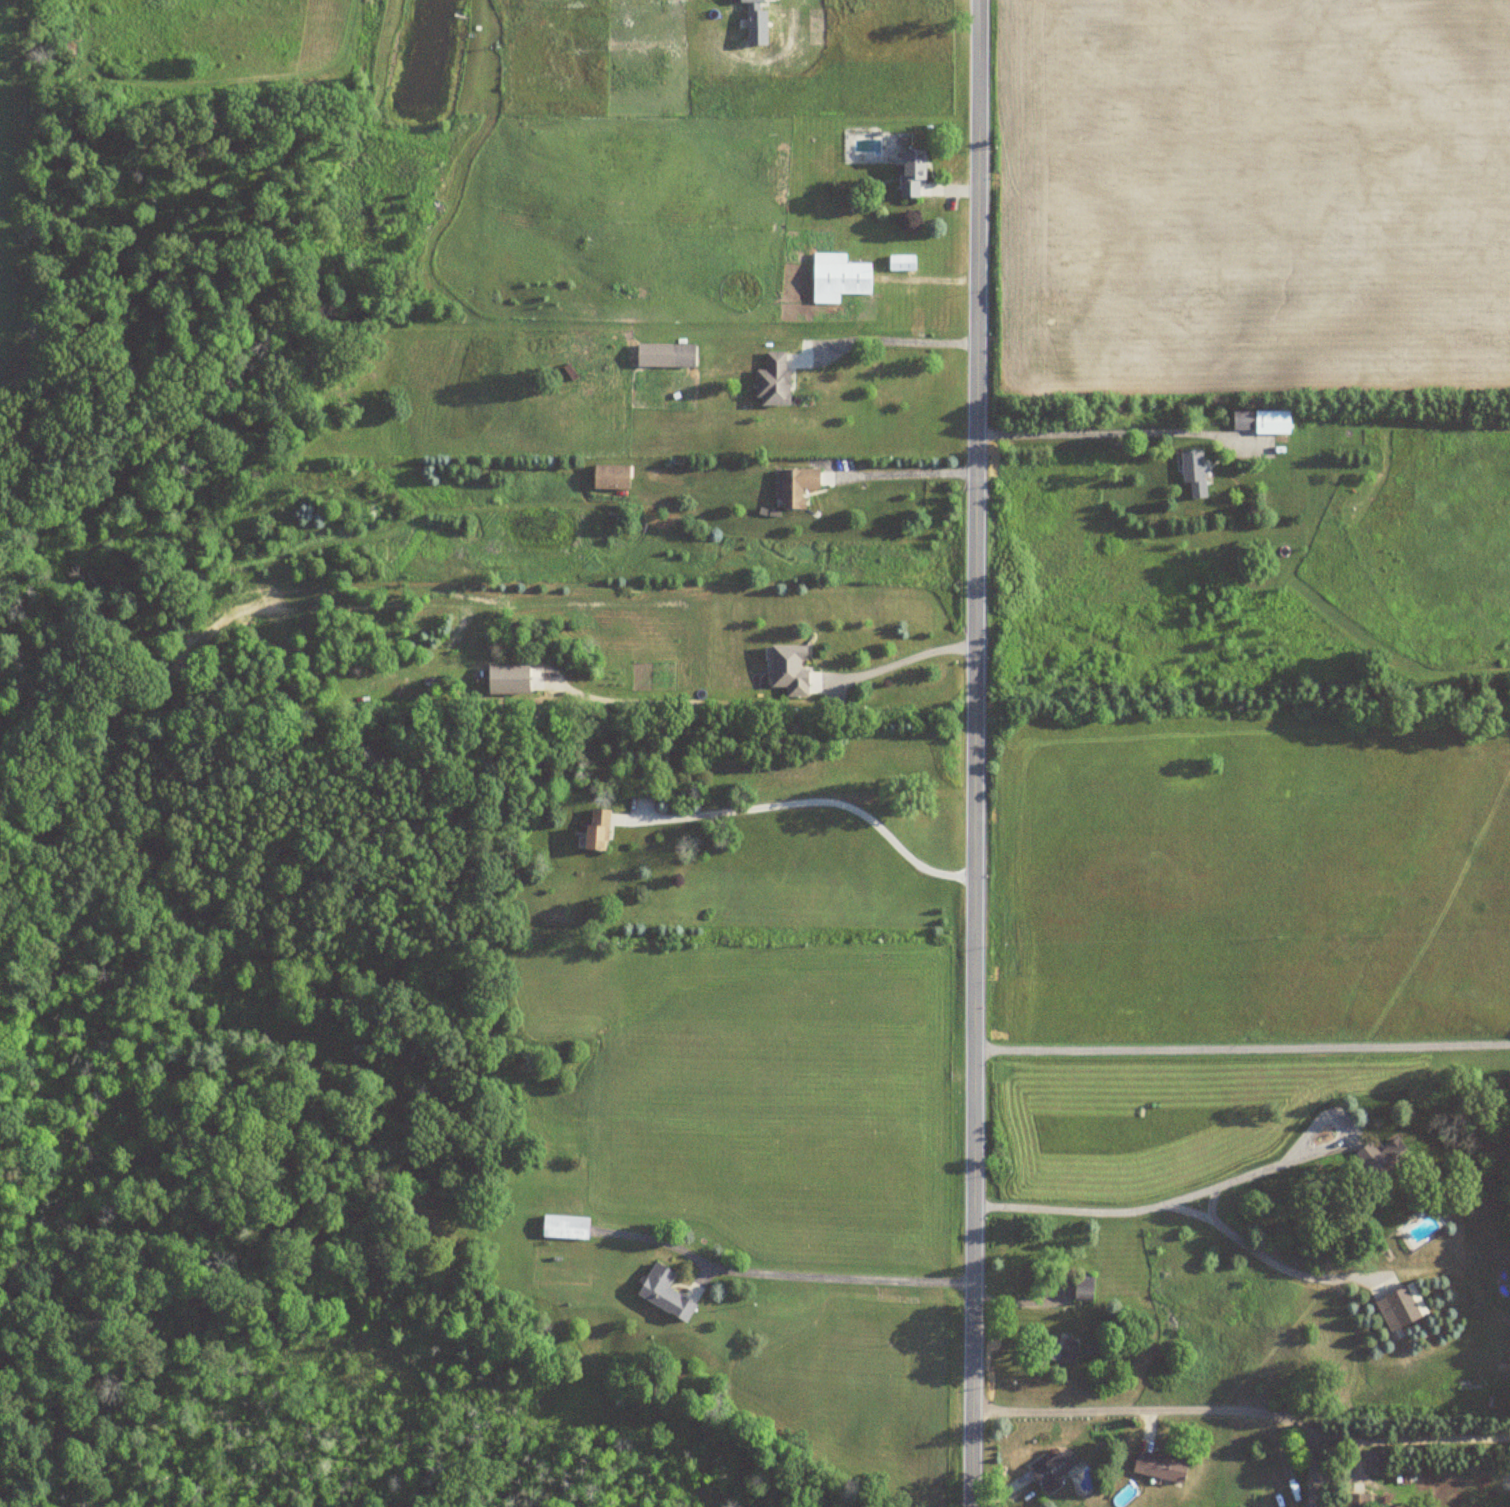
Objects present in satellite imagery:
building: (748, 0)
building: (912, 173)
building: (901, 262)
building: (838, 277)
road: (907, 340)
building: (682, 354)
building: (773, 379)
building: (1262, 420)
road: (1109, 434)
building: (1193, 471)
road: (914, 472)
building: (611, 475)
building: (796, 485)
road: (907, 660)
building: (789, 668)
building: (508, 678)
road: (977, 753)
road: (815, 799)
building: (597, 829)
road: (1242, 1044)
building: (1383, 1158)
road: (1245, 1176)
road: (1071, 1211)
building: (565, 1227)
road: (1263, 1258)
road: (837, 1274)
building: (1084, 1289)
building: (665, 1293)
building: (1401, 1307)
building: (1059, 1350)
road: (1244, 1409)
building: (1160, 1467)
road: (1314, 1469)
building: (1050, 1472)
building: (1357, 1500)

